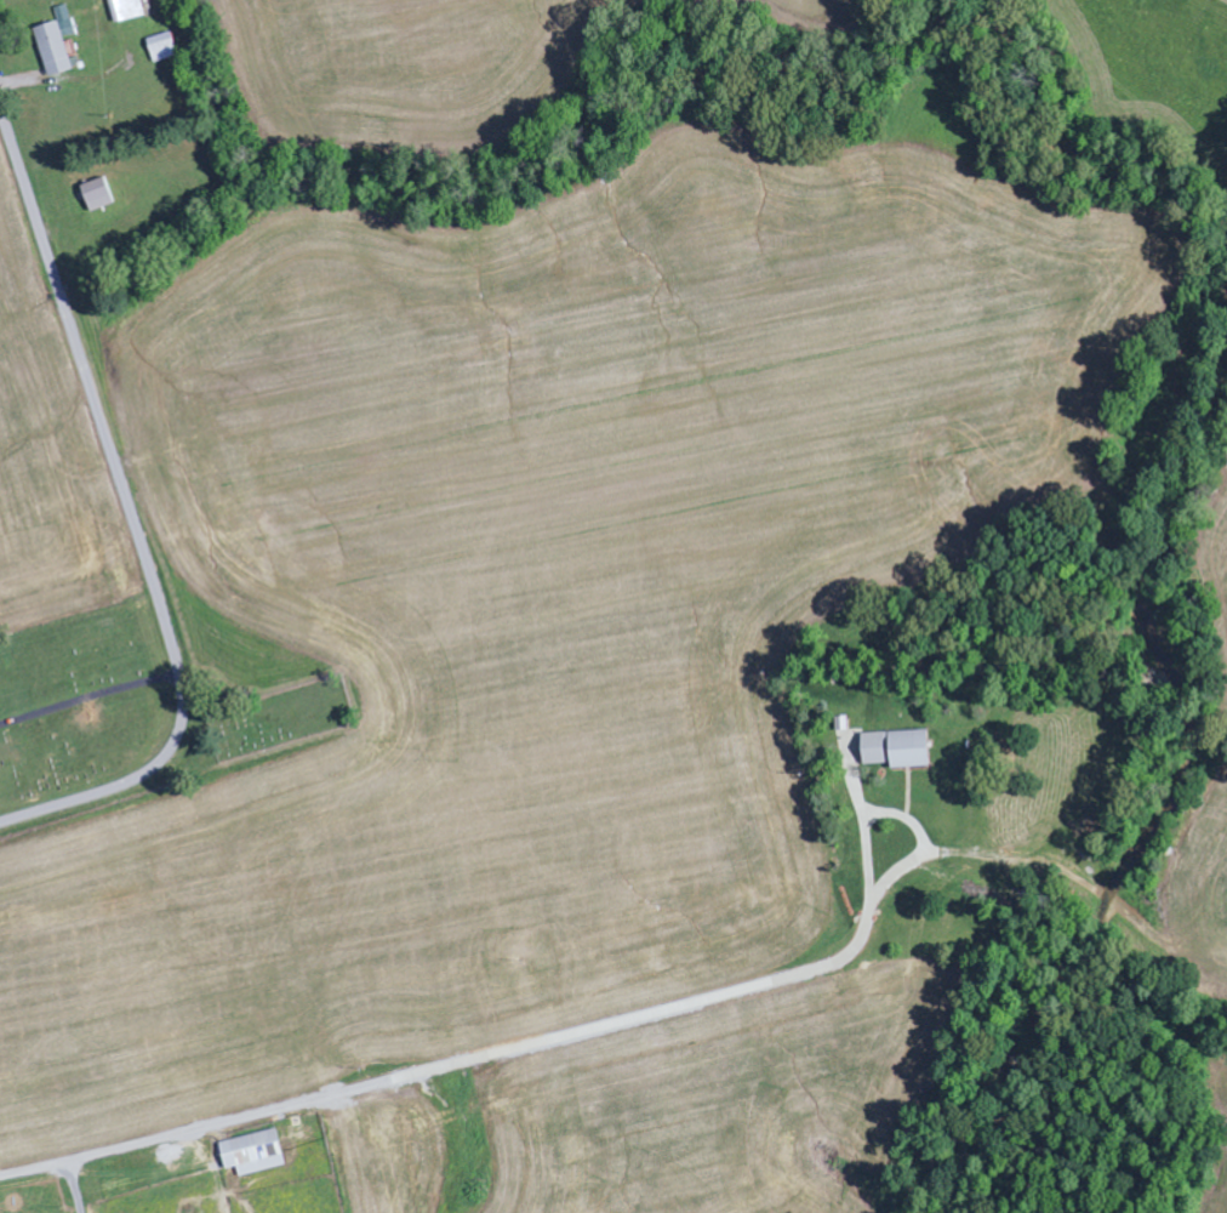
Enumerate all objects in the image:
building: (127, 10)
building: (58, 42)
building: (165, 47)
building: (99, 195)
road: (131, 516)
park: (80, 700)
park: (280, 717)
building: (900, 750)
road: (919, 848)
road: (532, 1044)
building: (256, 1154)

